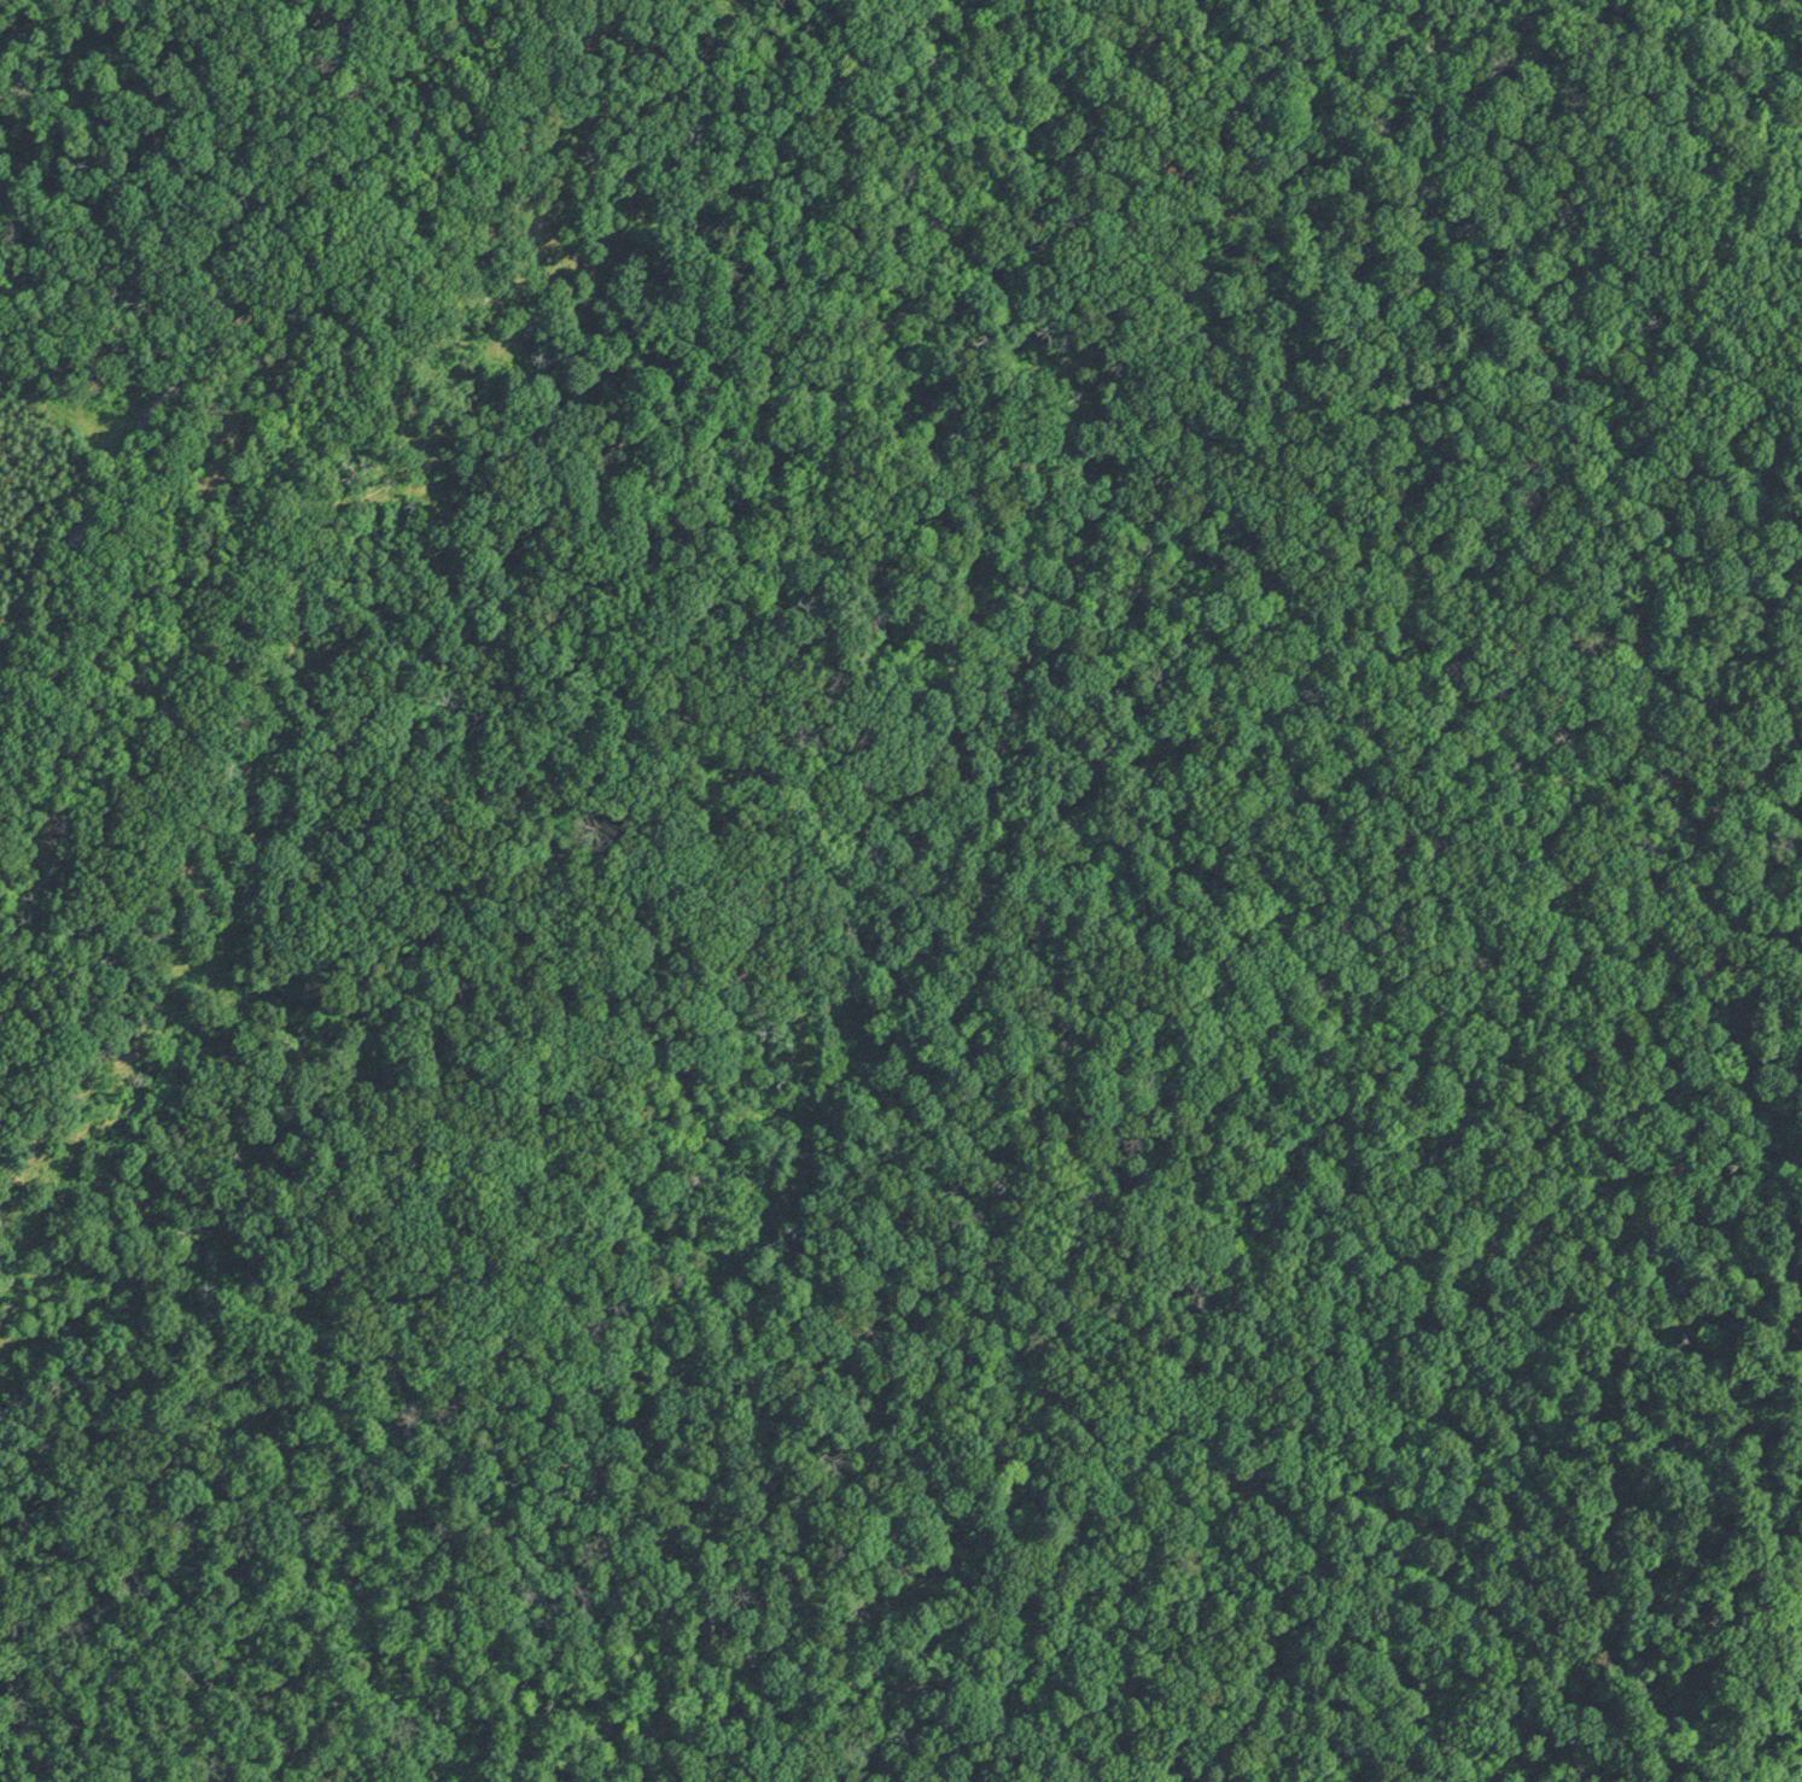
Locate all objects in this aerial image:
road: (167, 341)

